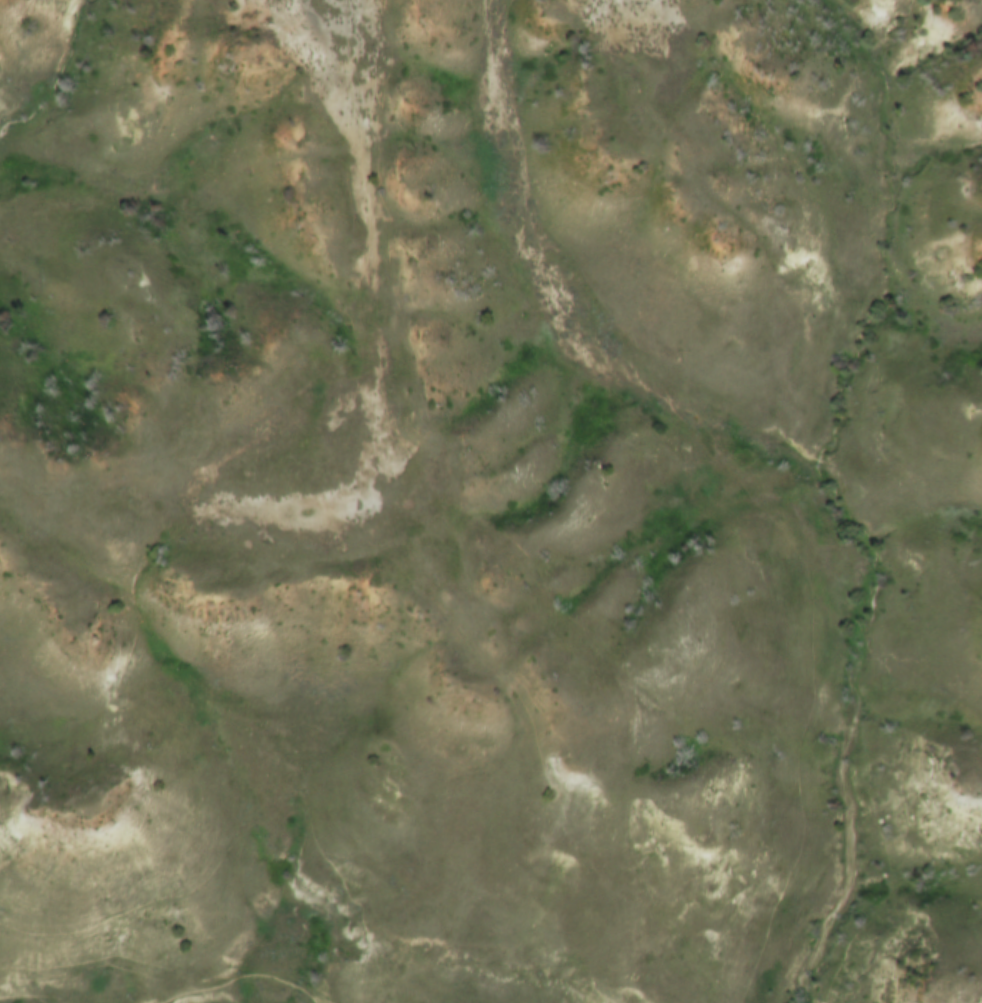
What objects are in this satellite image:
road: (201, 976)

